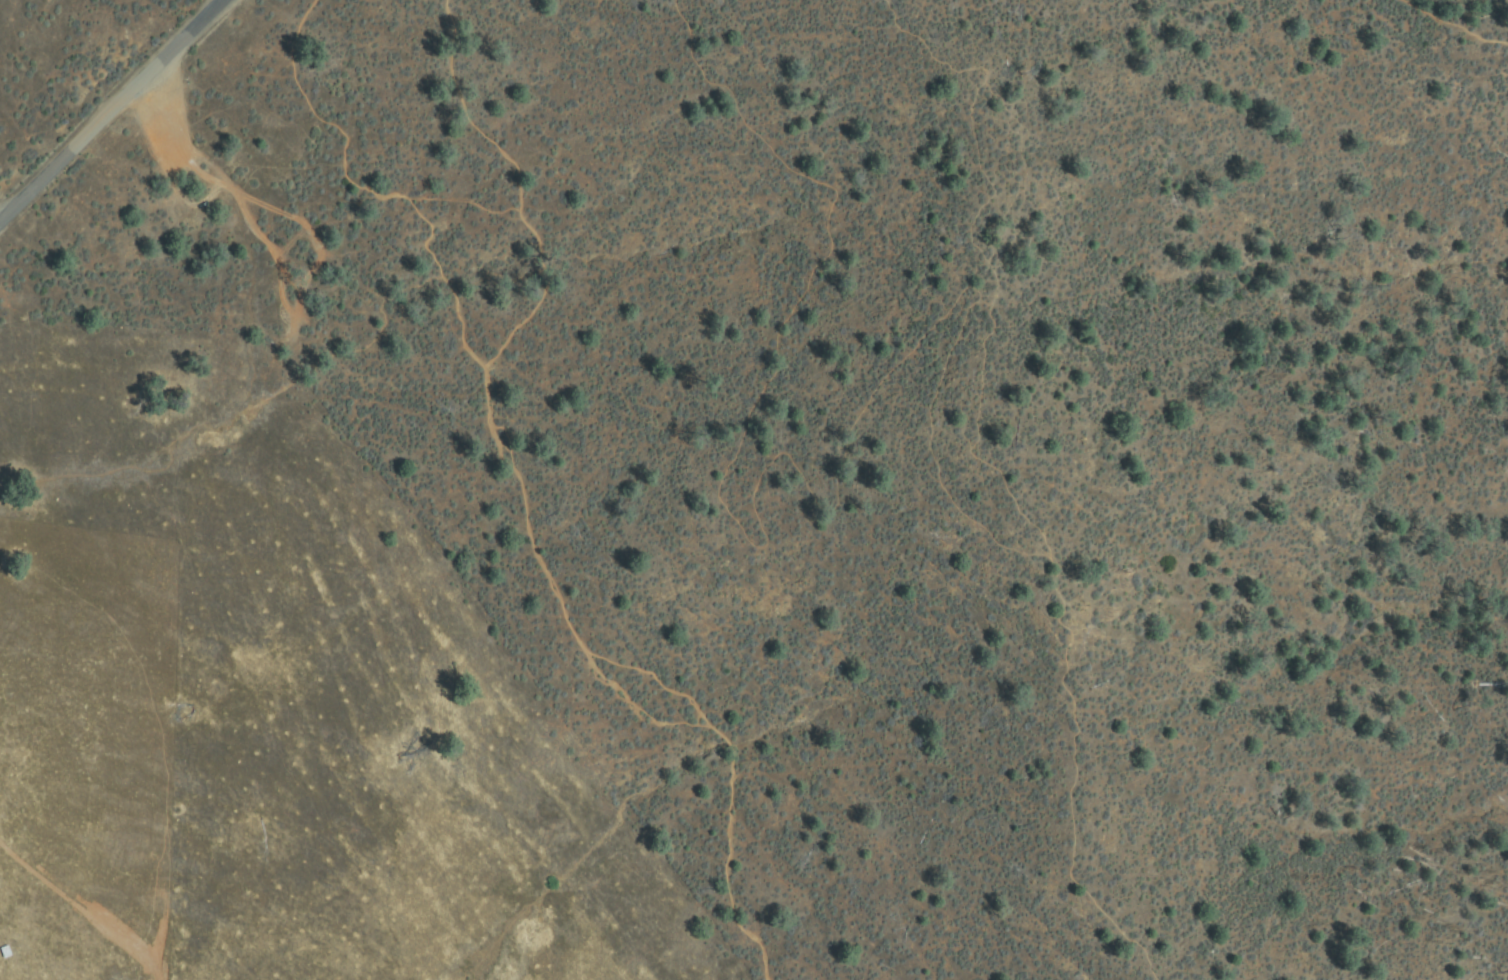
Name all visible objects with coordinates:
road: (1449, 28)
road: (99, 98)
road: (463, 111)
road: (348, 164)
road: (854, 414)
road: (570, 624)
building: (5, 952)

